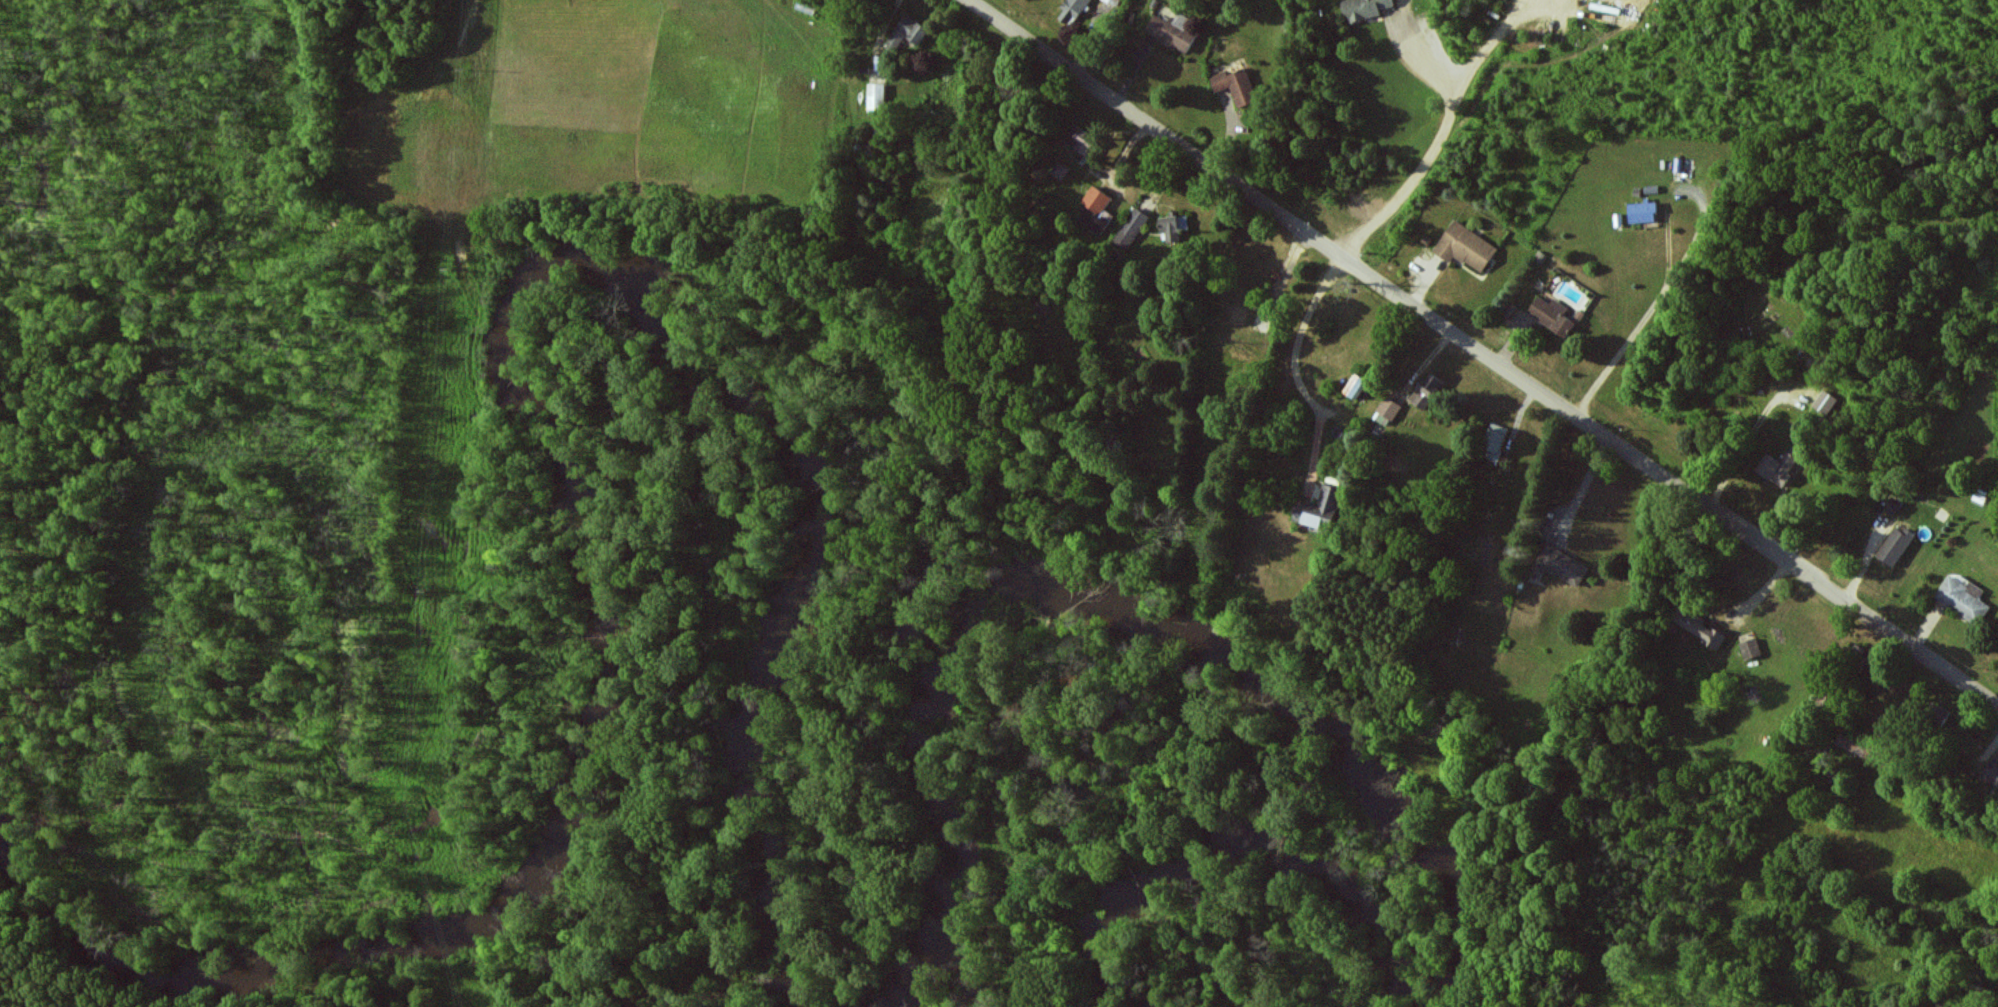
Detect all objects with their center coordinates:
building: (1114, 2)
building: (1364, 8)
road: (1516, 9)
road: (1539, 9)
building: (1072, 10)
building: (1173, 31)
building: (907, 32)
road: (1409, 68)
building: (1237, 86)
building: (877, 96)
building: (1079, 139)
road: (1436, 144)
building: (1060, 170)
building: (1095, 209)
building: (1643, 212)
building: (1173, 226)
building: (1131, 228)
building: (1465, 247)
road: (1661, 295)
building: (1543, 316)
road: (1301, 338)
road: (1484, 353)
building: (1427, 392)
building: (1825, 402)
building: (1387, 411)
river: (545, 437)
building: (1494, 441)
building: (1778, 467)
building: (1320, 509)
building: (1895, 546)
building: (1563, 565)
building: (1962, 600)
building: (1699, 626)
building: (1749, 648)
river: (1326, 725)
building: (1854, 744)
building: (1991, 774)

